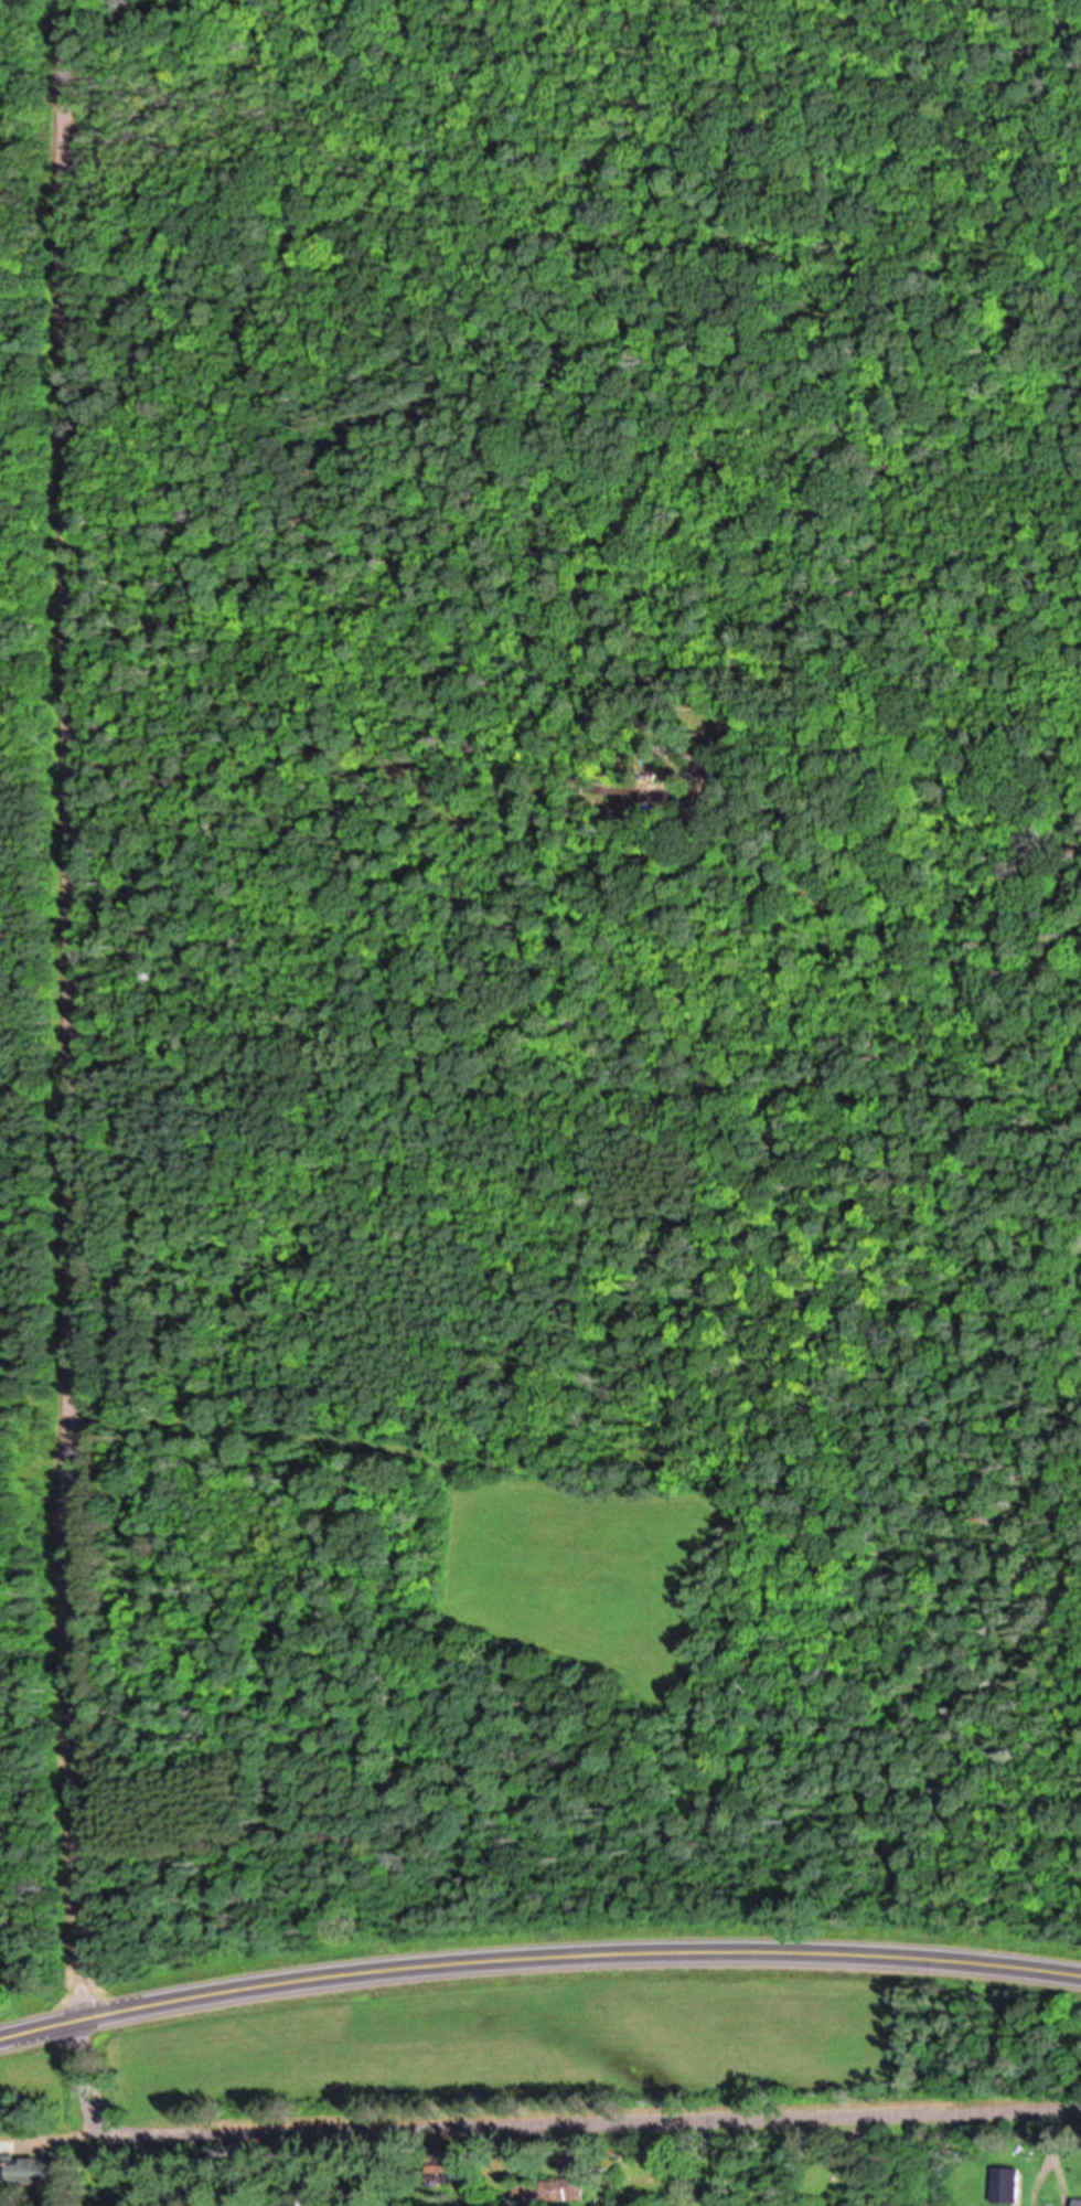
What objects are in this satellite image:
road: (73, 1009)
road: (537, 1955)
road: (537, 2123)
building: (8, 2163)
building: (40, 2167)
building: (462, 2167)
building: (1012, 2182)
building: (554, 2191)
building: (1080, 2200)
building: (295, 2202)

